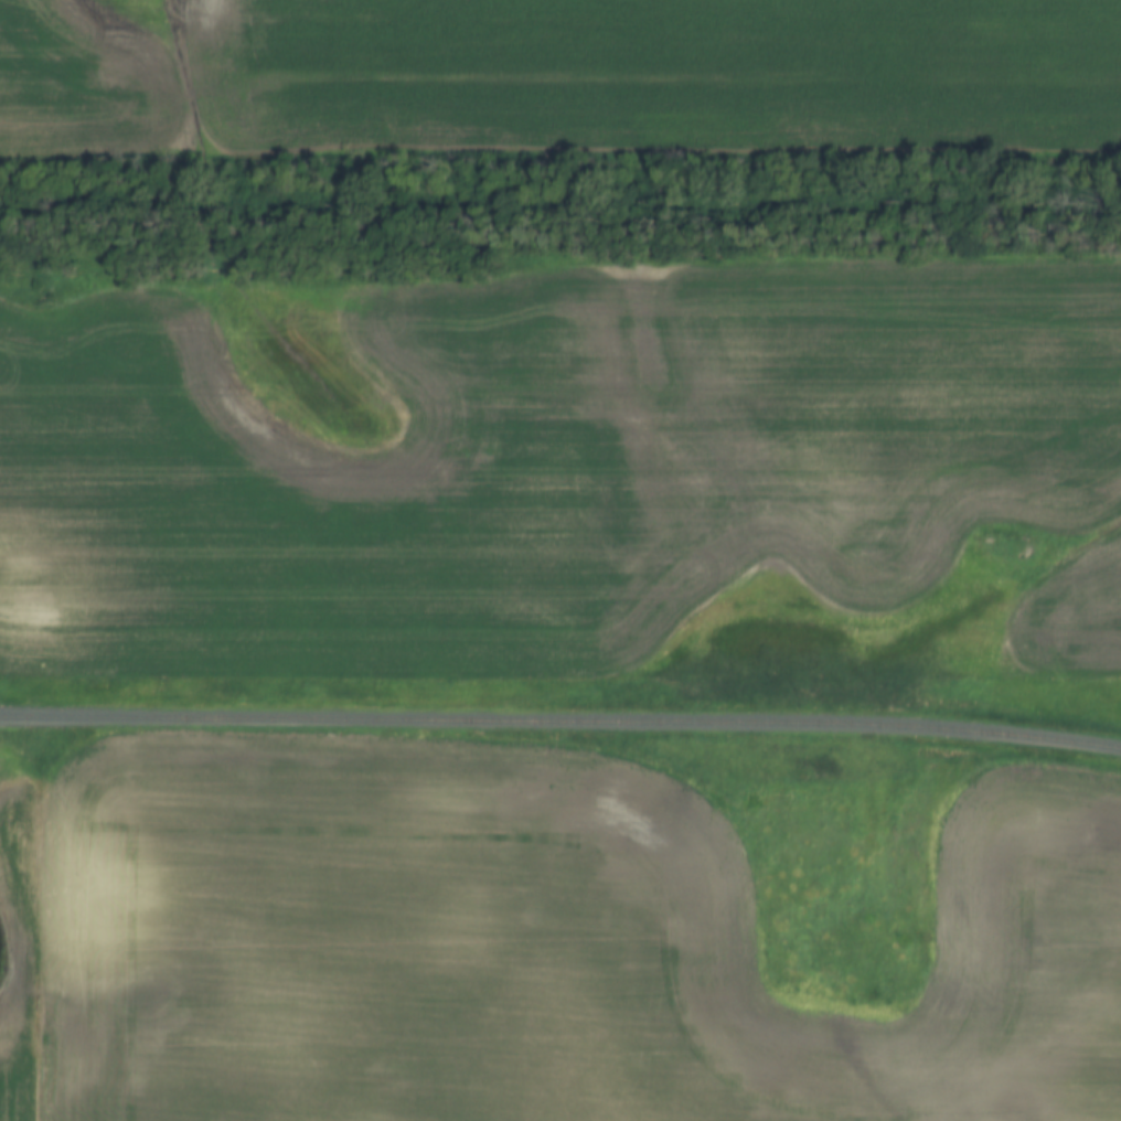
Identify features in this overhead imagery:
railway: (560, 722)

